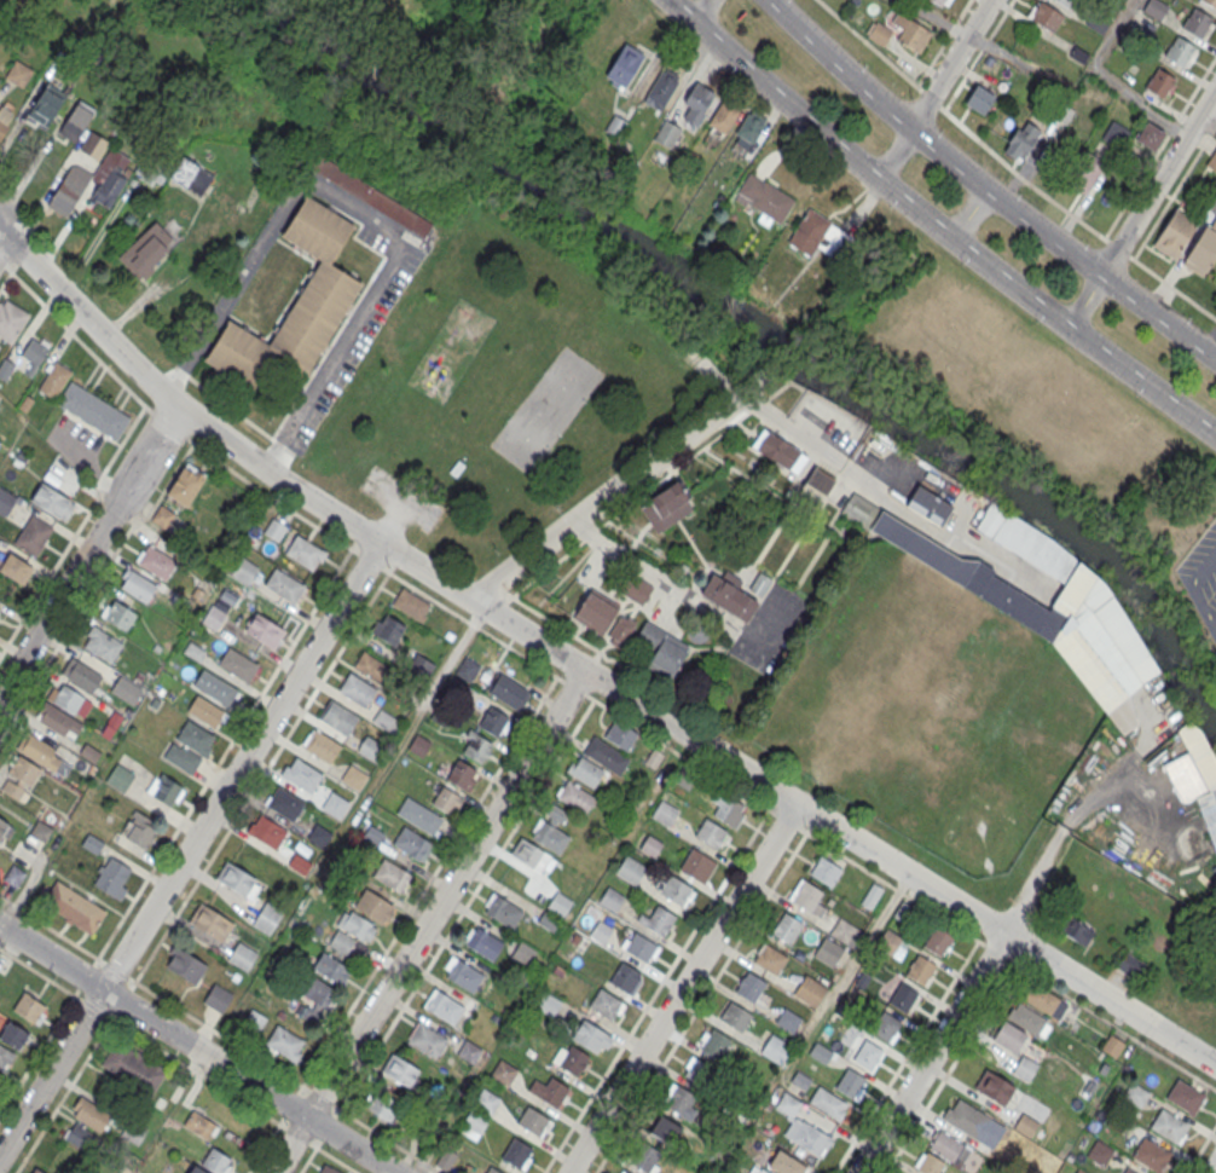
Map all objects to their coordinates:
park: (0, 0)
building: (1211, 1)
building: (942, 2)
building: (1066, 2)
building: (1156, 8)
road: (702, 12)
building: (1046, 16)
building: (1098, 21)
building: (1195, 22)
building: (910, 33)
building: (879, 34)
road: (942, 42)
building: (1179, 51)
road: (975, 54)
road: (951, 63)
building: (624, 67)
building: (18, 73)
road: (1111, 79)
building: (1159, 82)
building: (664, 85)
building: (979, 99)
building: (696, 103)
building: (46, 104)
building: (1064, 114)
building: (722, 119)
building: (4, 120)
building: (76, 121)
road: (1206, 123)
building: (667, 133)
building: (1116, 134)
building: (1150, 137)
building: (1021, 140)
building: (93, 145)
road: (896, 154)
building: (1212, 161)
road: (1011, 168)
building: (1084, 172)
building: (191, 175)
road: (1158, 181)
building: (110, 186)
road: (986, 187)
building: (69, 189)
building: (370, 196)
building: (764, 198)
road: (961, 207)
road: (361, 215)
road: (936, 225)
road: (0, 231)
building: (1175, 232)
building: (815, 233)
building: (1203, 249)
building: (150, 253)
road: (5, 264)
road: (5, 277)
road: (1084, 301)
building: (295, 302)
building: (11, 319)
parking lot: (361, 324)
river: (764, 348)
building: (33, 352)
road: (98, 359)
building: (5, 366)
building: (53, 376)
park: (517, 388)
building: (92, 408)
park: (545, 410)
road: (765, 415)
building: (778, 451)
building: (457, 469)
building: (820, 480)
building: (185, 484)
road: (604, 497)
building: (51, 498)
building: (5, 501)
parking lot: (400, 501)
road: (400, 501)
building: (928, 505)
building: (666, 507)
building: (857, 508)
building: (162, 516)
road: (390, 522)
building: (274, 530)
building: (33, 535)
road: (89, 550)
building: (305, 553)
road: (370, 559)
building: (156, 562)
building: (15, 567)
building: (245, 573)
parking lot: (1201, 574)
building: (759, 583)
building: (284, 584)
road: (1194, 584)
building: (137, 585)
road: (93, 586)
building: (635, 589)
building: (728, 595)
building: (410, 603)
building: (0, 608)
building: (595, 612)
building: (117, 614)
building: (213, 617)
road: (360, 618)
building: (1077, 625)
building: (388, 629)
building: (265, 630)
building: (620, 631)
building: (102, 643)
building: (661, 648)
building: (193, 651)
building: (237, 664)
building: (421, 665)
building: (371, 666)
building: (468, 669)
road: (587, 671)
building: (83, 676)
building: (215, 688)
building: (357, 688)
building: (508, 692)
building: (69, 700)
building: (205, 711)
building: (337, 717)
park: (930, 717)
building: (57, 720)
road: (244, 721)
building: (387, 721)
building: (492, 721)
building: (620, 734)
building: (195, 736)
building: (320, 745)
building: (475, 746)
building: (370, 749)
building: (37, 750)
building: (88, 752)
building: (606, 755)
building: (181, 757)
road: (699, 765)
building: (584, 770)
building: (302, 774)
building: (461, 774)
building: (19, 776)
building: (353, 776)
building: (1201, 776)
building: (118, 778)
building: (164, 790)
building: (574, 797)
building: (446, 799)
park: (968, 799)
building: (284, 803)
building: (335, 804)
building: (729, 809)
building: (664, 813)
building: (419, 815)
building: (2, 827)
building: (139, 828)
building: (40, 831)
building: (267, 831)
building: (710, 833)
building: (318, 834)
building: (550, 836)
building: (92, 843)
building: (411, 843)
building: (652, 846)
road: (190, 849)
building: (529, 855)
building: (697, 865)
building: (631, 871)
building: (824, 871)
building: (392, 874)
building: (111, 878)
building: (237, 879)
road: (429, 882)
building: (676, 891)
building: (872, 895)
building: (806, 896)
building: (610, 900)
building: (558, 903)
building: (374, 905)
building: (73, 907)
building: (503, 911)
building: (266, 919)
building: (658, 920)
building: (209, 921)
road: (429, 921)
road: (453, 923)
building: (357, 925)
building: (786, 926)
building: (601, 931)
building: (845, 932)
building: (1077, 932)
building: (937, 940)
building: (482, 942)
building: (892, 944)
building: (639, 947)
building: (523, 952)
building: (828, 952)
building: (242, 955)
building: (770, 958)
road: (1011, 961)
building: (185, 965)
building: (331, 967)
road: (115, 969)
building: (919, 969)
building: (462, 973)
building: (624, 977)
building: (749, 987)
road: (683, 988)
building: (318, 990)
road: (656, 990)
building: (810, 990)
building: (216, 998)
building: (902, 998)
road: (700, 1002)
building: (1046, 1002)
building: (604, 1004)
building: (29, 1006)
building: (442, 1006)
building: (735, 1016)
building: (788, 1019)
building: (1027, 1021)
building: (886, 1025)
road: (48, 1035)
building: (591, 1036)
building: (427, 1039)
building: (1008, 1039)
road: (231, 1041)
building: (284, 1042)
building: (714, 1044)
building: (1112, 1046)
road: (197, 1048)
building: (775, 1048)
building: (867, 1053)
road: (932, 1053)
building: (5, 1054)
building: (569, 1058)
road: (955, 1059)
road: (178, 1061)
building: (133, 1068)
building: (1025, 1068)
building: (400, 1070)
building: (0, 1074)
road: (74, 1076)
building: (850, 1082)
building: (995, 1087)
building: (550, 1092)
building: (1135, 1094)
building: (1185, 1097)
building: (486, 1100)
building: (681, 1103)
building: (381, 1108)
building: (89, 1114)
building: (967, 1119)
building: (533, 1121)
building: (198, 1123)
building: (1025, 1125)
building: (473, 1126)
building: (1168, 1126)
road: (276, 1129)
building: (665, 1131)
building: (80, 1137)
building: (811, 1138)
building: (949, 1148)
road: (1200, 1148)
building: (516, 1152)
building: (1100, 1152)
building: (1151, 1155)
building: (446, 1158)
building: (645, 1158)
road: (307, 1160)
building: (216, 1161)
building: (930, 1163)
building: (784, 1165)
building: (197, 1169)
building: (328, 1169)
building: (758, 1169)
road: (1214, 1169)
building: (35, 1171)
building: (492, 1171)
building: (623, 1171)
building: (1079, 1171)
building: (1128, 1171)

